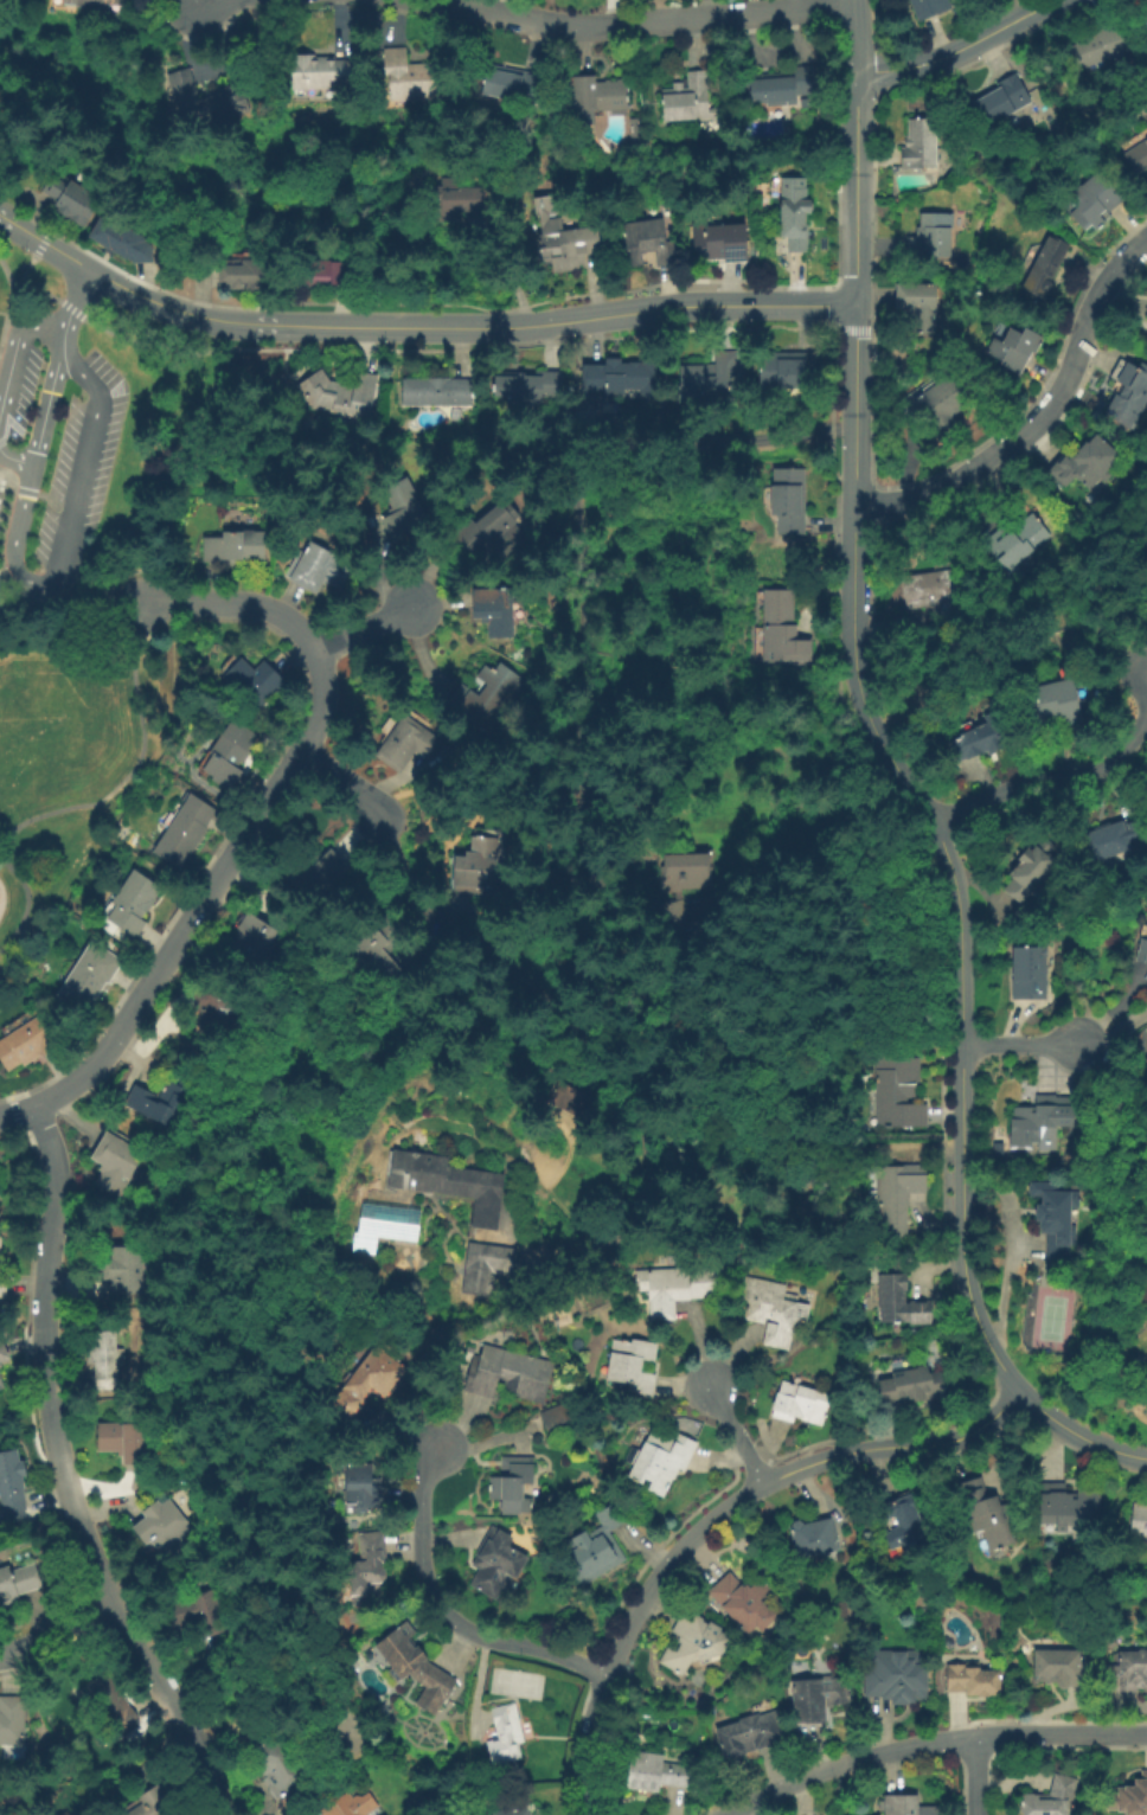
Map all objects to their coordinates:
road: (196, 1)
road: (205, 1)
building: (95, 4)
building: (929, 8)
building: (1146, 14)
road: (641, 19)
road: (852, 34)
road: (955, 49)
building: (1095, 49)
building: (322, 75)
building: (414, 79)
building: (514, 86)
building: (778, 86)
building: (592, 98)
building: (688, 100)
building: (1001, 100)
building: (205, 103)
building: (805, 103)
building: (635, 133)
building: (919, 145)
building: (1138, 156)
road: (853, 188)
building: (73, 200)
building: (1092, 201)
building: (455, 204)
building: (792, 212)
building: (563, 231)
building: (931, 236)
building: (118, 238)
building: (719, 242)
building: (648, 243)
road: (14, 257)
building: (248, 269)
building: (334, 269)
building: (1044, 270)
road: (13, 284)
road: (76, 299)
building: (918, 306)
building: (1146, 315)
road: (414, 327)
building: (1014, 348)
road: (57, 354)
building: (787, 370)
building: (626, 376)
building: (707, 380)
building: (528, 387)
building: (436, 392)
building: (339, 393)
building: (1129, 396)
road: (852, 404)
building: (941, 406)
building: (1146, 409)
road: (1039, 415)
parking lot: (66, 447)
building: (1085, 463)
road: (160, 480)
road: (6, 495)
building: (788, 500)
building: (402, 508)
road: (68, 535)
building: (492, 537)
building: (1015, 544)
building: (235, 547)
building: (318, 567)
road: (8, 582)
road: (5, 591)
building: (933, 594)
road: (27, 601)
building: (493, 608)
road: (28, 613)
road: (364, 626)
road: (1135, 628)
building: (783, 630)
building: (254, 681)
building: (487, 698)
building: (1053, 705)
building: (982, 738)
building: (406, 744)
park: (76, 746)
building: (230, 753)
road: (136, 757)
road: (1068, 771)
road: (340, 780)
building: (184, 830)
road: (250, 830)
building: (1113, 840)
road: (5, 846)
building: (478, 864)
building: (314, 866)
building: (1031, 870)
building: (688, 876)
building: (133, 903)
road: (26, 905)
building: (668, 915)
building: (251, 942)
building: (1142, 953)
building: (377, 957)
building: (1029, 973)
building: (89, 976)
building: (217, 1011)
road: (960, 1016)
building: (26, 1043)
road: (1017, 1046)
building: (898, 1091)
building: (565, 1098)
building: (164, 1101)
building: (1042, 1117)
building: (115, 1162)
building: (449, 1184)
building: (897, 1200)
building: (1055, 1218)
building: (384, 1225)
building: (0, 1248)
building: (482, 1263)
building: (123, 1270)
building: (2, 1285)
building: (683, 1288)
building: (901, 1297)
building: (773, 1309)
park: (1049, 1317)
building: (2, 1351)
building: (103, 1358)
building: (632, 1365)
building: (0, 1366)
building: (508, 1374)
building: (367, 1381)
building: (1, 1384)
building: (911, 1384)
building: (800, 1404)
building: (557, 1418)
road: (741, 1436)
building: (124, 1441)
building: (660, 1460)
road: (64, 1475)
road: (775, 1476)
building: (12, 1482)
building: (512, 1484)
building: (358, 1487)
building: (1065, 1506)
building: (988, 1514)
building: (1139, 1518)
building: (905, 1525)
building: (164, 1527)
building: (814, 1537)
building: (598, 1545)
building: (496, 1564)
building: (366, 1571)
building: (18, 1582)
building: (743, 1602)
road: (443, 1611)
building: (196, 1614)
road: (58, 1631)
building: (694, 1643)
building: (415, 1667)
building: (1061, 1667)
building: (1128, 1672)
building: (973, 1680)
building: (897, 1682)
building: (818, 1697)
building: (110, 1705)
building: (12, 1720)
road: (589, 1725)
road: (1059, 1732)
building: (749, 1733)
building: (505, 1734)
road: (842, 1762)
building: (277, 1766)
building: (654, 1772)
road: (973, 1775)
building: (1129, 1797)
building: (1051, 1798)
road: (587, 1801)
building: (156, 1803)
building: (348, 1806)
building: (906, 1806)
building: (512, 1811)

